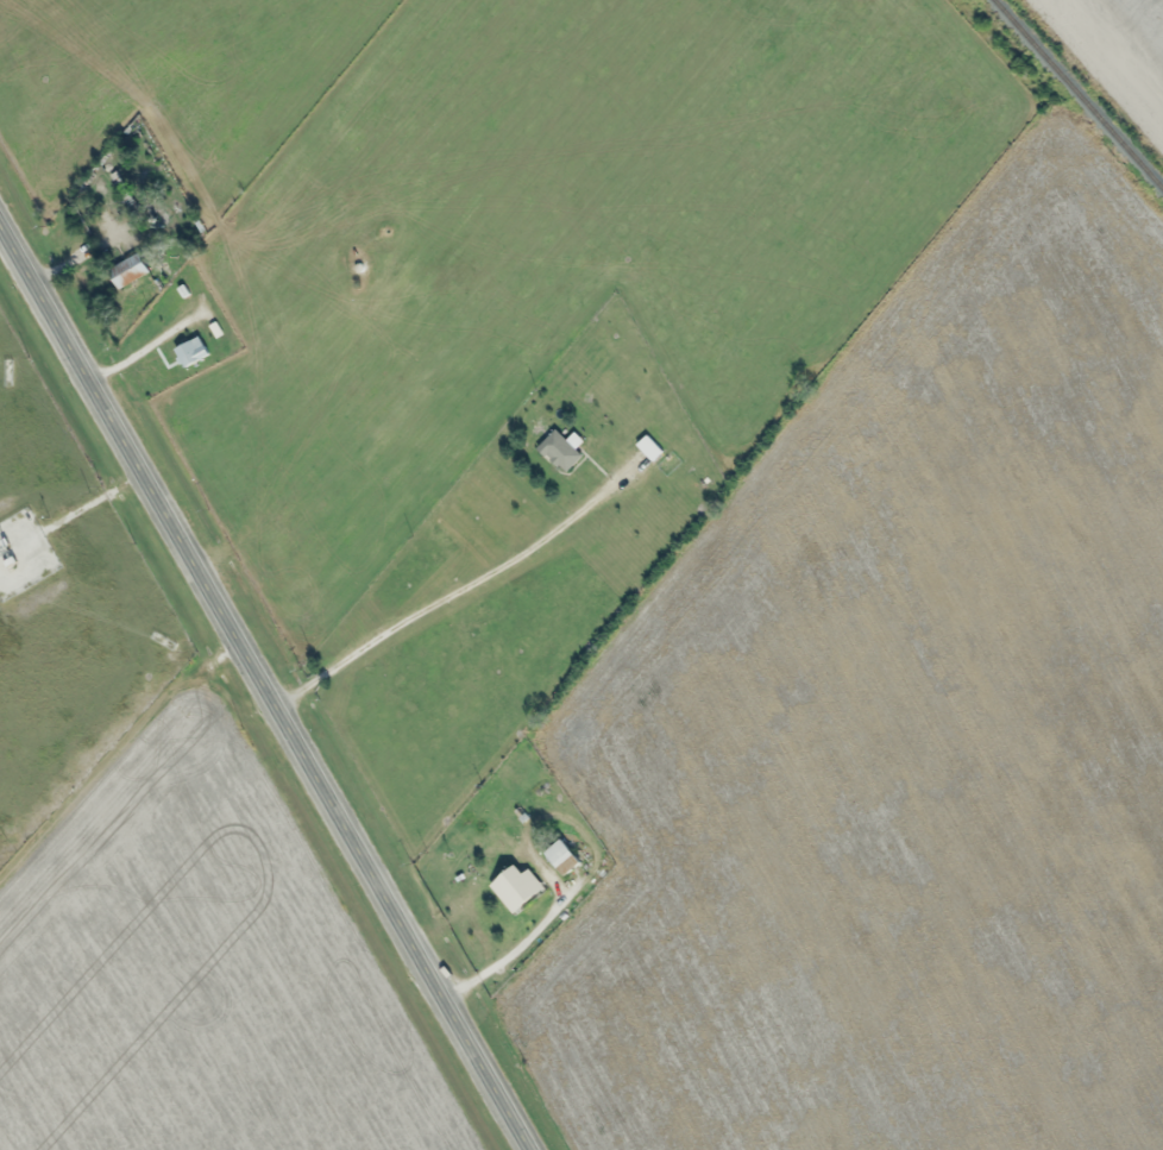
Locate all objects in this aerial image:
railway: (1076, 95)
building: (127, 271)
building: (648, 448)
building: (559, 452)
road: (264, 689)
building: (560, 859)
building: (515, 890)

